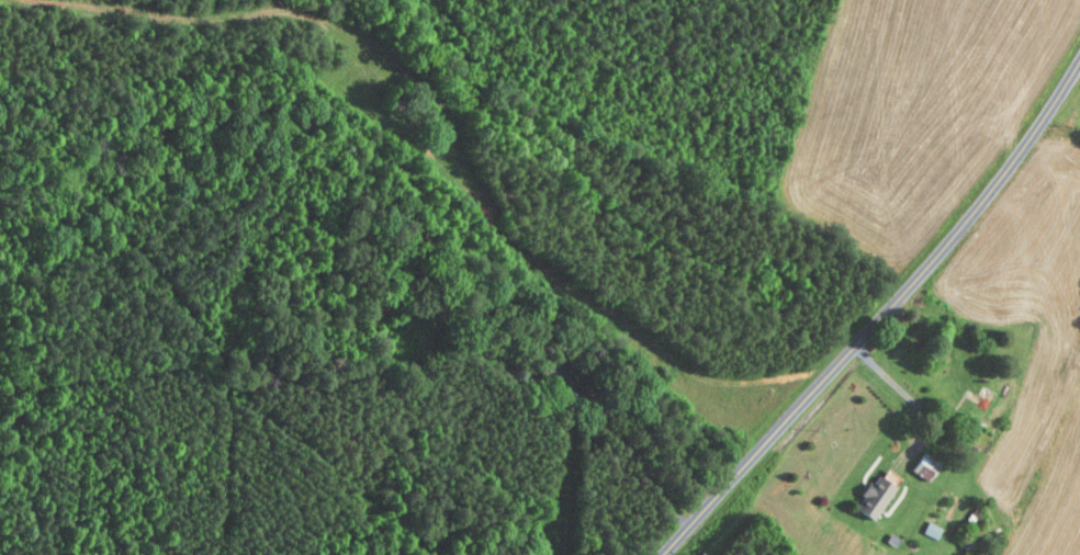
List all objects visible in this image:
road: (881, 312)
road: (912, 397)
building: (881, 495)

